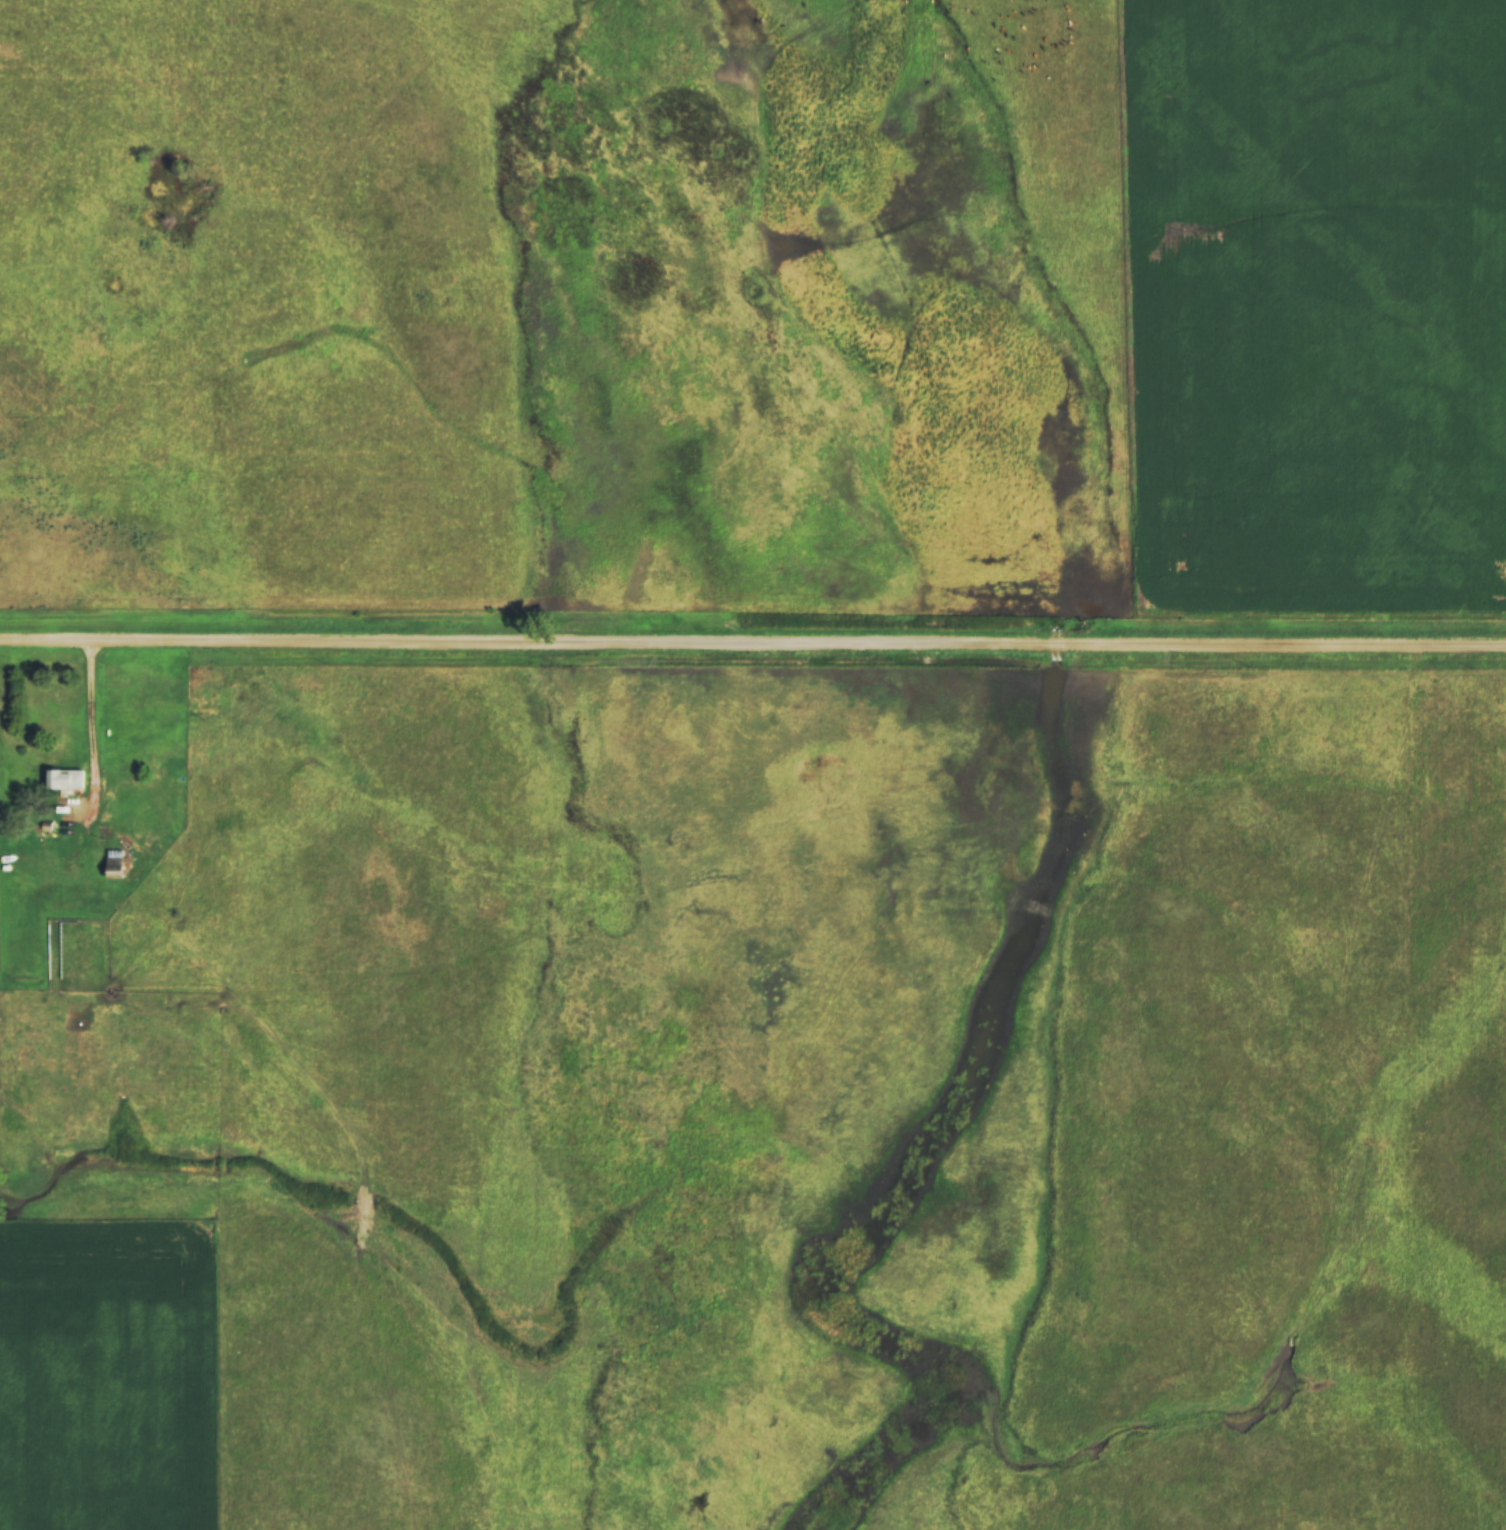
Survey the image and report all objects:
road: (752, 644)
road: (93, 715)
building: (65, 779)
building: (115, 864)

